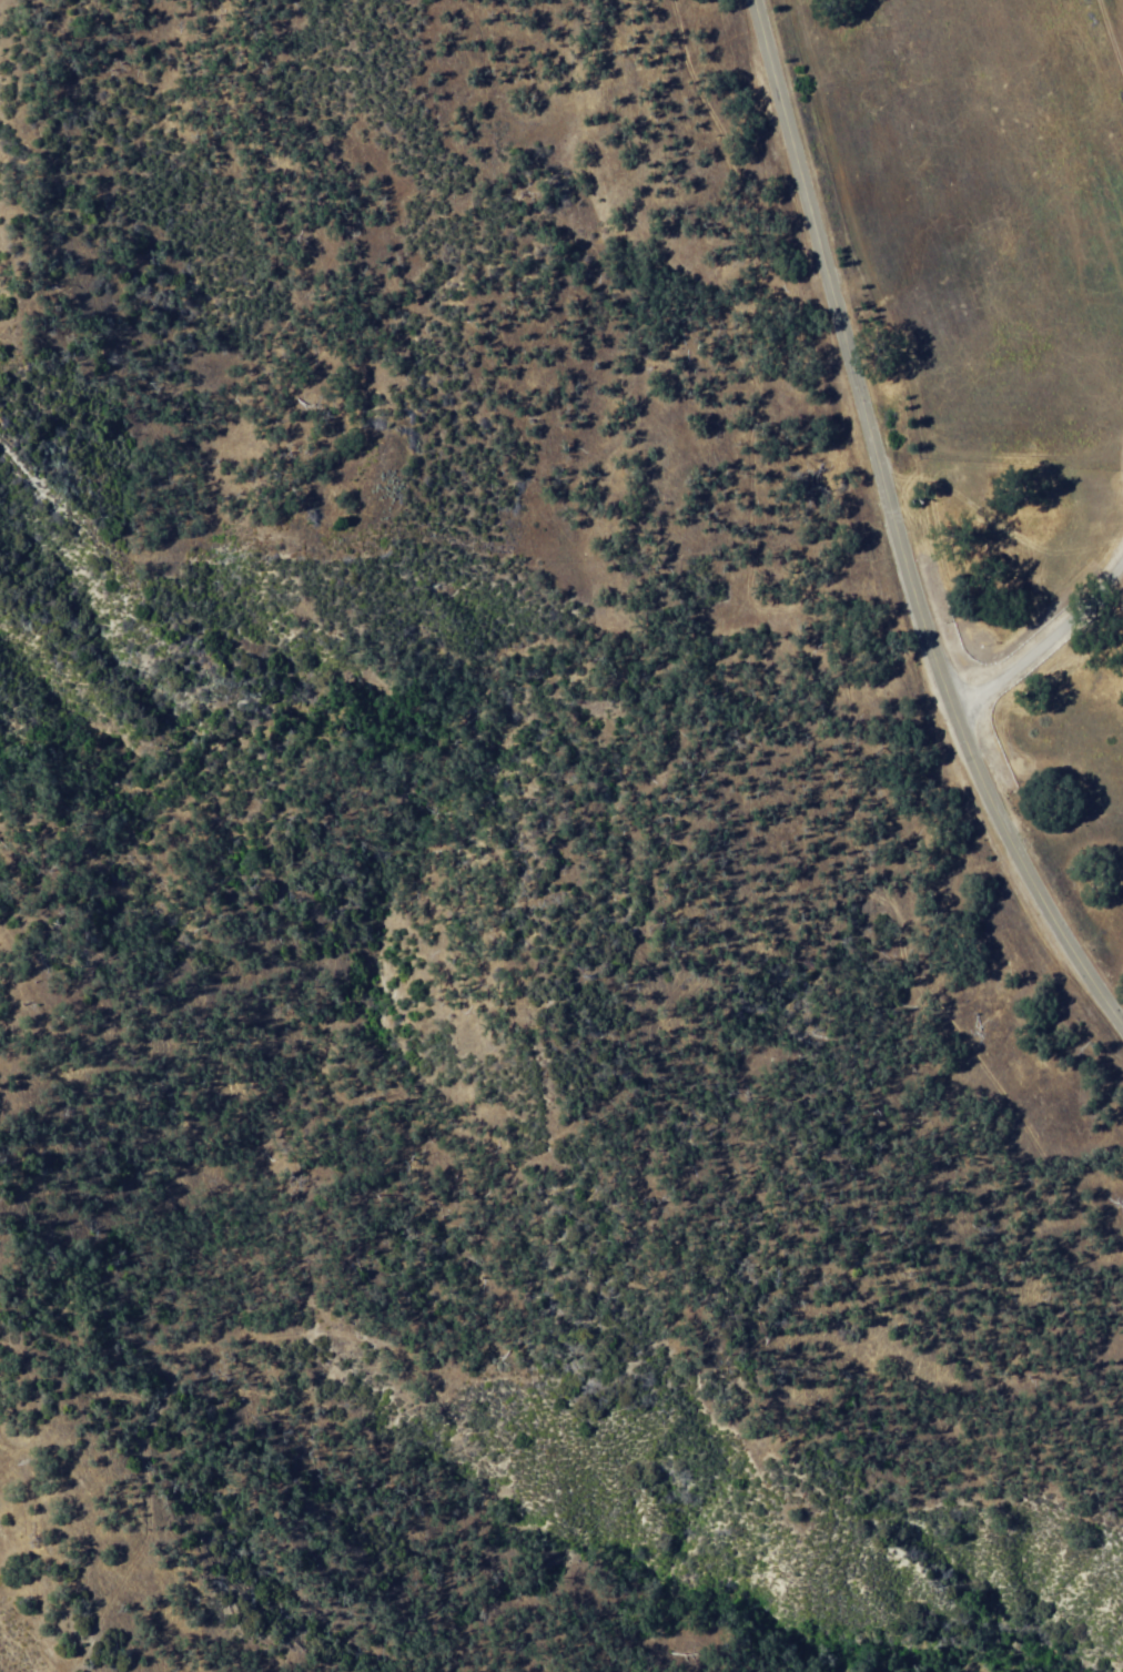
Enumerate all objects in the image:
crop: (1025, 202)
road: (901, 521)
road: (1051, 640)

